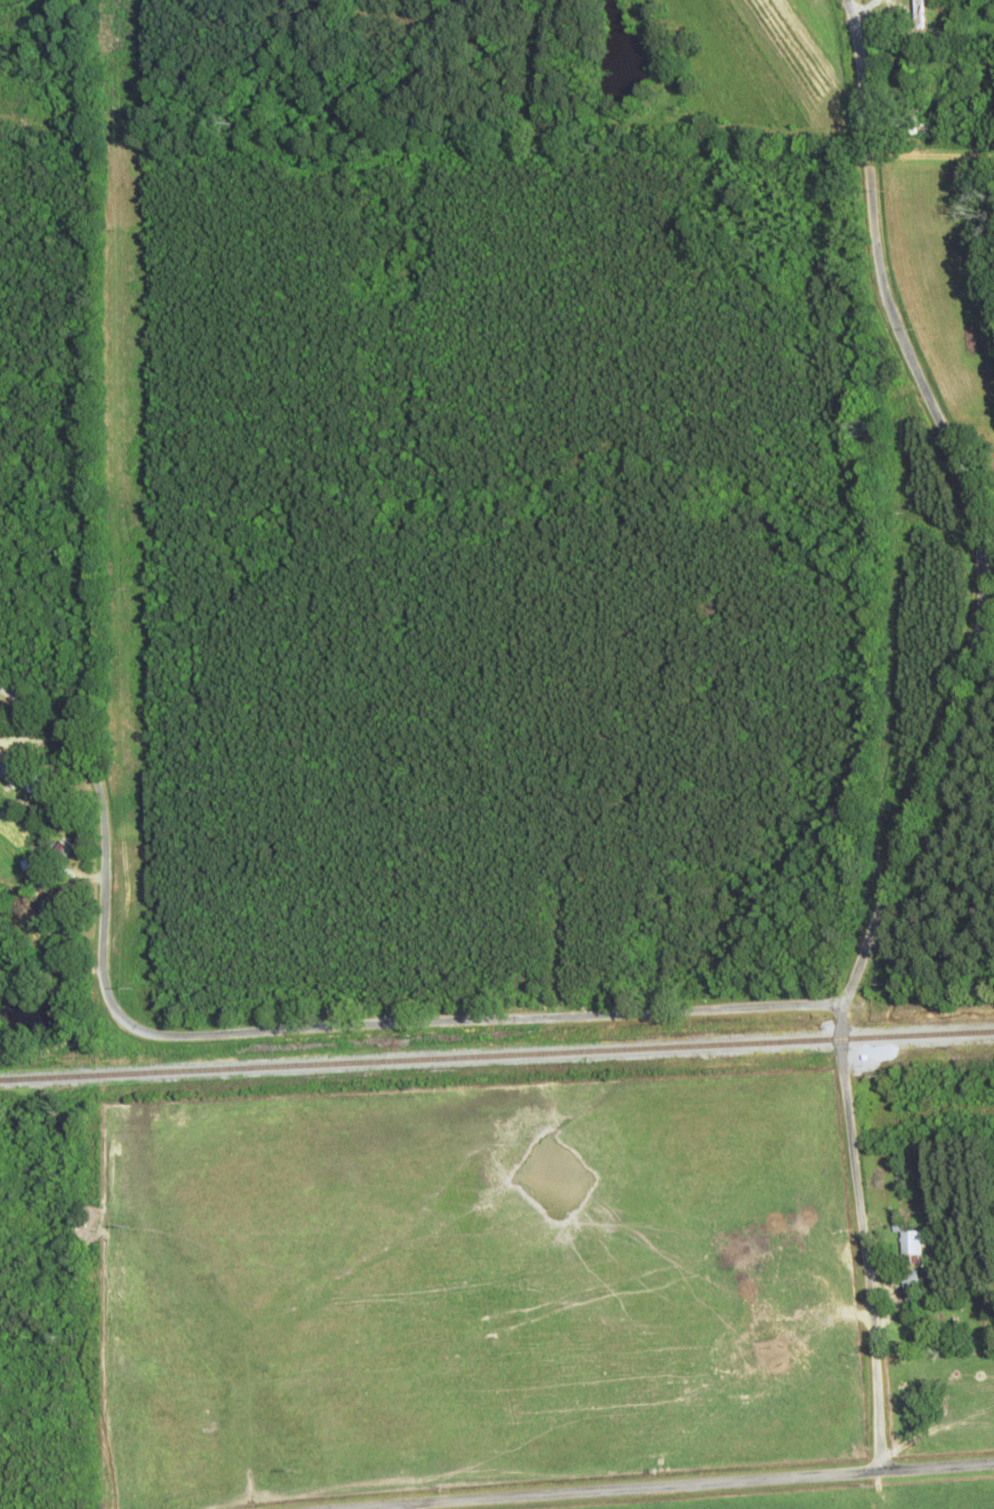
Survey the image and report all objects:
road: (847, 7)
road: (863, 9)
parking lot: (81, 278)
road: (60, 731)
road: (939, 739)
building: (25, 777)
building: (51, 864)
road: (361, 1029)
railway: (497, 1055)
building: (908, 1248)
building: (908, 1288)
road: (662, 1485)

